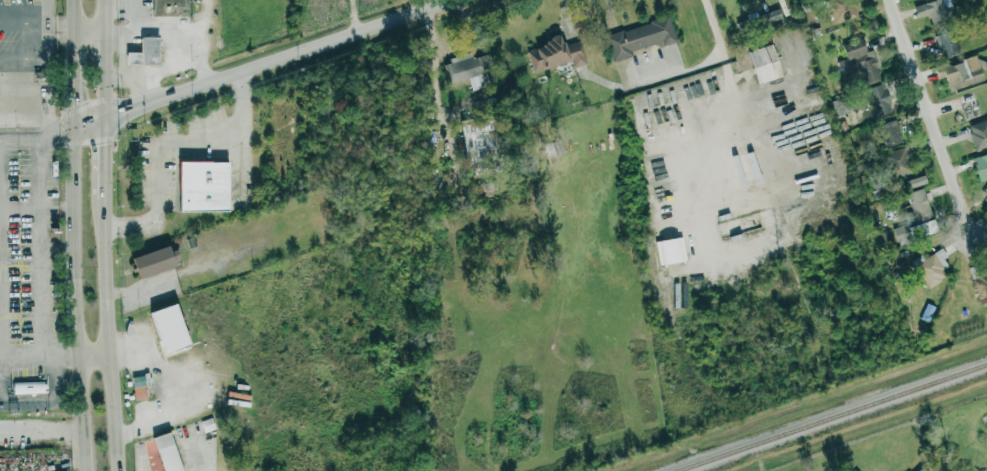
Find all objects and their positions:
building: (168, 8)
building: (841, 10)
building: (931, 11)
road: (99, 15)
road: (572, 15)
road: (358, 16)
building: (770, 16)
road: (35, 19)
road: (714, 25)
road: (30, 27)
road: (85, 30)
road: (168, 31)
road: (50, 36)
building: (639, 38)
building: (944, 43)
road: (99, 53)
road: (124, 53)
building: (143, 53)
building: (555, 54)
road: (26, 58)
building: (859, 60)
road: (260, 63)
building: (764, 64)
road: (434, 66)
road: (172, 67)
building: (462, 70)
building: (962, 72)
road: (134, 75)
road: (99, 97)
road: (935, 119)
road: (35, 121)
building: (888, 132)
building: (978, 134)
road: (49, 137)
building: (475, 137)
road: (163, 141)
road: (98, 154)
building: (897, 162)
building: (980, 166)
building: (915, 182)
building: (201, 186)
road: (37, 209)
building: (919, 213)
building: (985, 220)
road: (76, 235)
building: (670, 250)
building: (151, 261)
building: (931, 267)
road: (41, 269)
building: (980, 287)
road: (2, 316)
building: (167, 329)
road: (105, 330)
road: (94, 355)
road: (61, 360)
building: (27, 387)
building: (138, 387)
railway: (830, 417)
road: (41, 428)
building: (164, 452)
building: (917, 470)

